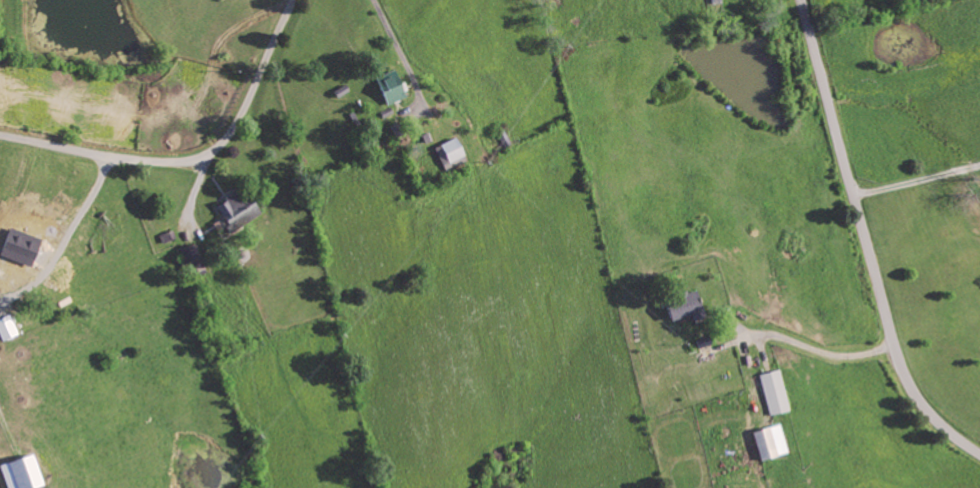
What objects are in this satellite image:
building: (389, 95)
building: (447, 155)
road: (191, 157)
road: (918, 182)
building: (233, 213)
road: (868, 239)
building: (20, 250)
building: (190, 262)
building: (678, 308)
building: (5, 329)
building: (770, 394)
building: (766, 444)
building: (17, 474)

